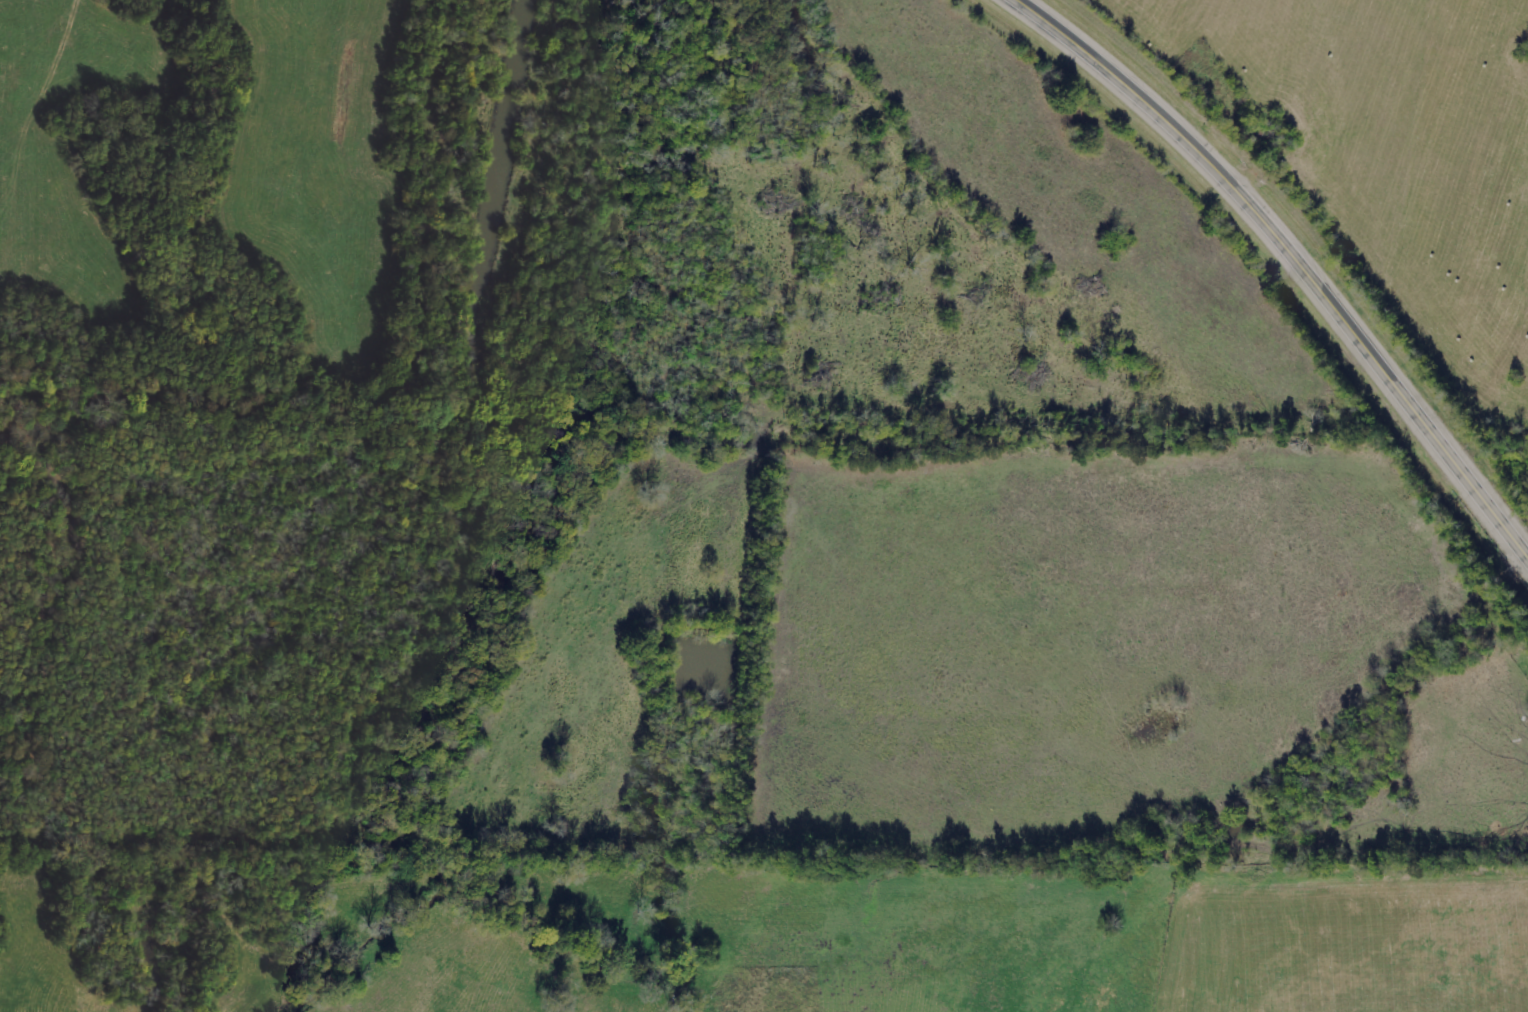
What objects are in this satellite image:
railway: (1310, 245)
road: (1296, 257)

